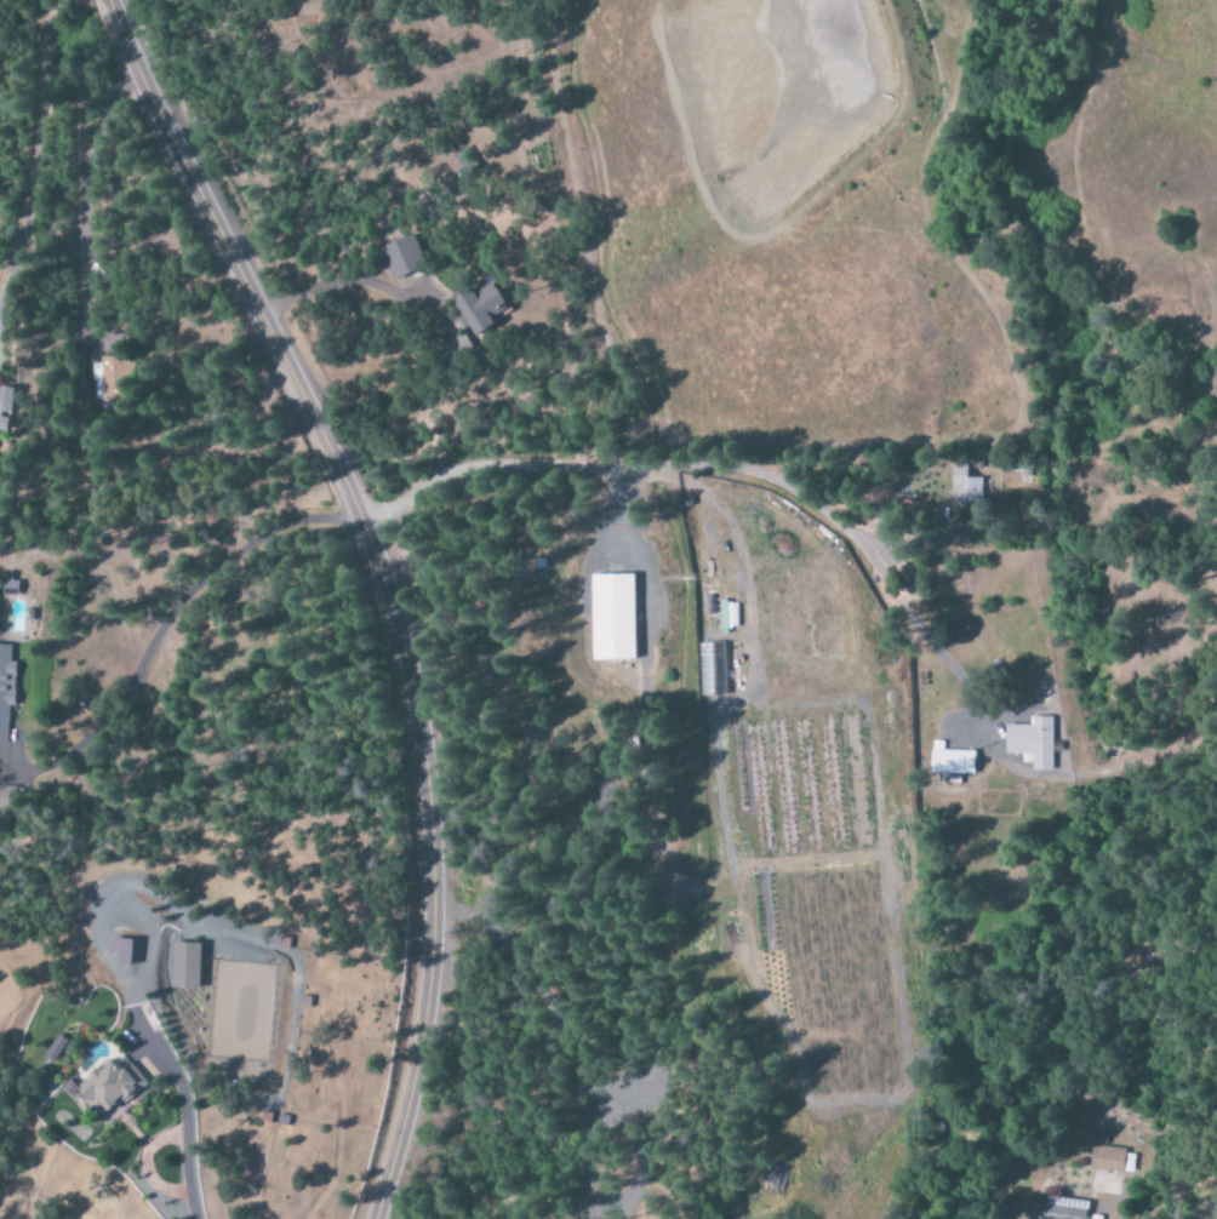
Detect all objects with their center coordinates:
building: (400, 257)
building: (476, 308)
building: (5, 401)
road: (639, 475)
building: (964, 486)
building: (10, 586)
road: (370, 588)
building: (729, 617)
building: (610, 618)
building: (712, 670)
building: (6, 689)
building: (1030, 742)
building: (949, 761)
building: (119, 951)
building: (183, 967)
building: (108, 1087)
building: (1113, 1160)
building: (1056, 1209)

